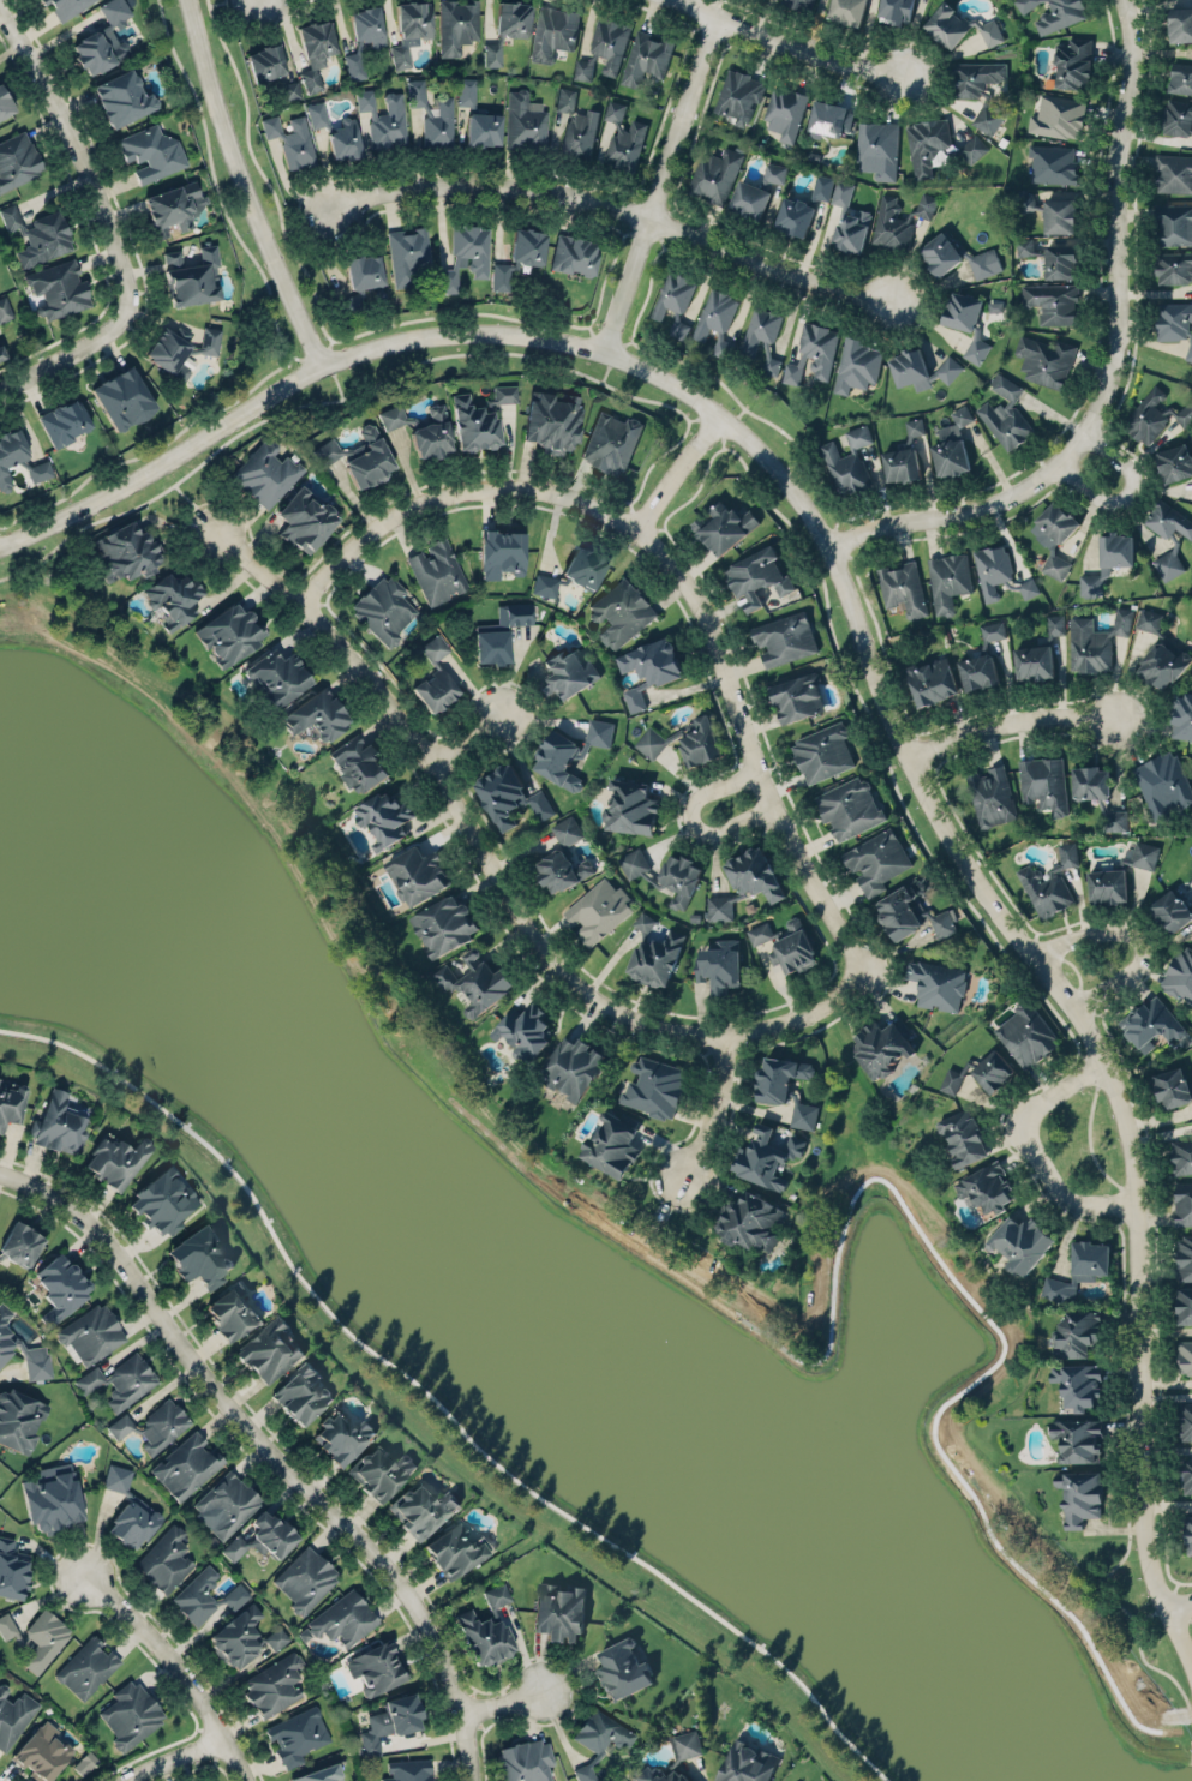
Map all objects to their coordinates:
building: (798, 4)
building: (66, 7)
building: (897, 10)
building: (847, 11)
building: (1055, 13)
building: (513, 18)
building: (1180, 23)
building: (456, 25)
building: (958, 26)
building: (409, 29)
building: (552, 31)
building: (103, 40)
building: (363, 40)
road: (784, 46)
building: (604, 47)
building: (315, 52)
building: (492, 53)
building: (647, 56)
building: (265, 62)
building: (1073, 64)
building: (1180, 78)
building: (978, 88)
building: (289, 90)
building: (466, 91)
building: (415, 92)
building: (738, 96)
building: (122, 98)
building: (5, 104)
building: (784, 112)
building: (317, 114)
building: (1058, 115)
building: (1176, 116)
building: (383, 118)
building: (829, 119)
building: (525, 120)
building: (438, 125)
building: (576, 125)
building: (483, 130)
building: (624, 138)
building: (290, 140)
building: (343, 140)
building: (926, 143)
building: (972, 148)
building: (879, 149)
building: (150, 152)
building: (17, 161)
building: (1052, 163)
road: (262, 172)
building: (1174, 173)
building: (714, 174)
road: (215, 181)
road: (658, 185)
road: (241, 188)
building: (841, 192)
building: (755, 193)
building: (173, 206)
road: (616, 208)
building: (803, 208)
road: (120, 210)
building: (1052, 212)
building: (902, 218)
building: (1174, 222)
building: (851, 230)
building: (38, 235)
building: (1024, 246)
building: (407, 254)
building: (466, 256)
building: (574, 256)
building: (519, 258)
building: (958, 258)
building: (1060, 260)
building: (1174, 268)
building: (192, 277)
building: (59, 289)
building: (673, 294)
building: (1054, 301)
building: (5, 310)
road: (466, 313)
building: (715, 320)
building: (966, 320)
building: (1175, 322)
building: (679, 326)
building: (762, 336)
building: (819, 347)
building: (180, 350)
building: (2, 355)
building: (1046, 359)
road: (1113, 360)
building: (856, 365)
road: (606, 367)
building: (792, 371)
building: (922, 371)
road: (391, 373)
road: (336, 380)
building: (122, 400)
building: (1005, 413)
building: (1152, 415)
building: (479, 420)
building: (552, 421)
building: (64, 424)
building: (915, 426)
building: (421, 431)
road: (706, 432)
building: (611, 442)
building: (952, 445)
building: (327, 451)
building: (369, 458)
building: (18, 461)
building: (851, 462)
building: (1176, 463)
building: (902, 464)
road: (681, 469)
building: (266, 475)
road: (449, 476)
road: (1126, 494)
road: (456, 502)
road: (647, 520)
building: (1170, 521)
building: (304, 522)
road: (248, 524)
building: (724, 526)
building: (1055, 538)
building: (502, 553)
building: (127, 554)
building: (1108, 562)
building: (1168, 564)
building: (436, 571)
building: (575, 572)
building: (999, 574)
building: (756, 577)
building: (948, 580)
building: (903, 587)
building: (174, 601)
building: (383, 608)
building: (621, 612)
road: (724, 617)
building: (230, 634)
building: (499, 635)
building: (784, 638)
building: (1095, 641)
road: (868, 650)
building: (1160, 652)
building: (1041, 653)
building: (982, 660)
building: (441, 670)
building: (649, 670)
building: (568, 672)
building: (277, 676)
building: (932, 682)
building: (796, 696)
road: (1145, 703)
building: (317, 710)
building: (1182, 715)
road: (1013, 721)
road: (471, 736)
building: (685, 743)
building: (570, 748)
building: (822, 751)
road: (749, 752)
road: (912, 756)
building: (359, 758)
building: (1044, 782)
building: (1163, 782)
building: (509, 792)
building: (1098, 796)
building: (993, 798)
building: (631, 802)
building: (849, 808)
building: (383, 812)
road: (691, 818)
building: (567, 829)
building: (877, 859)
building: (633, 862)
building: (562, 869)
building: (754, 872)
building: (418, 874)
road: (505, 875)
building: (1121, 876)
building: (681, 878)
building: (1049, 882)
building: (719, 906)
building: (1172, 906)
building: (900, 909)
building: (598, 910)
building: (645, 919)
building: (944, 923)
building: (444, 924)
road: (1034, 934)
building: (787, 941)
road: (1130, 941)
building: (658, 952)
building: (719, 960)
building: (1180, 971)
building: (475, 981)
building: (938, 981)
road: (1092, 1011)
building: (525, 1030)
building: (1026, 1031)
building: (882, 1042)
building: (573, 1066)
building: (993, 1071)
building: (779, 1077)
building: (951, 1080)
building: (655, 1085)
building: (1173, 1086)
building: (11, 1104)
road: (717, 1109)
building: (803, 1113)
building: (58, 1123)
building: (964, 1134)
building: (612, 1141)
road: (1036, 1144)
road: (1089, 1144)
building: (116, 1155)
building: (767, 1155)
building: (1181, 1155)
building: (987, 1187)
building: (163, 1198)
building: (1182, 1203)
building: (750, 1218)
building: (20, 1239)
building: (1020, 1242)
building: (1185, 1254)
building: (199, 1257)
building: (1079, 1269)
building: (60, 1285)
building: (1185, 1299)
building: (232, 1308)
building: (1077, 1330)
building: (92, 1331)
building: (6, 1333)
building: (269, 1350)
building: (1186, 1353)
building: (36, 1362)
building: (121, 1379)
building: (1078, 1384)
building: (301, 1389)
building: (19, 1419)
building: (1186, 1420)
building: (155, 1423)
building: (342, 1433)
building: (1079, 1435)
road: (269, 1453)
building: (186, 1465)
building: (381, 1471)
building: (1186, 1475)
building: (1079, 1495)
building: (53, 1498)
building: (227, 1501)
building: (424, 1506)
building: (128, 1510)
road: (358, 1516)
building: (1187, 1534)
building: (263, 1535)
building: (455, 1551)
building: (166, 1559)
building: (12, 1569)
building: (305, 1578)
road: (1172, 1593)
building: (204, 1594)
road: (1179, 1600)
building: (558, 1611)
road: (1149, 1611)
building: (343, 1617)
building: (487, 1626)
building: (12, 1629)
building: (44, 1636)
building: (244, 1637)
road: (182, 1653)
building: (88, 1665)
building: (622, 1666)
building: (376, 1668)
building: (274, 1685)
road: (504, 1698)
road: (461, 1710)
building: (14, 1713)
building: (131, 1713)
building: (393, 1719)
building: (296, 1735)
building: (599, 1738)
building: (685, 1744)
building: (42, 1750)
road: (181, 1758)
building: (526, 1759)
building: (84, 1762)
building: (747, 1762)
building: (408, 1770)
building: (319, 1773)
building: (660, 1774)

